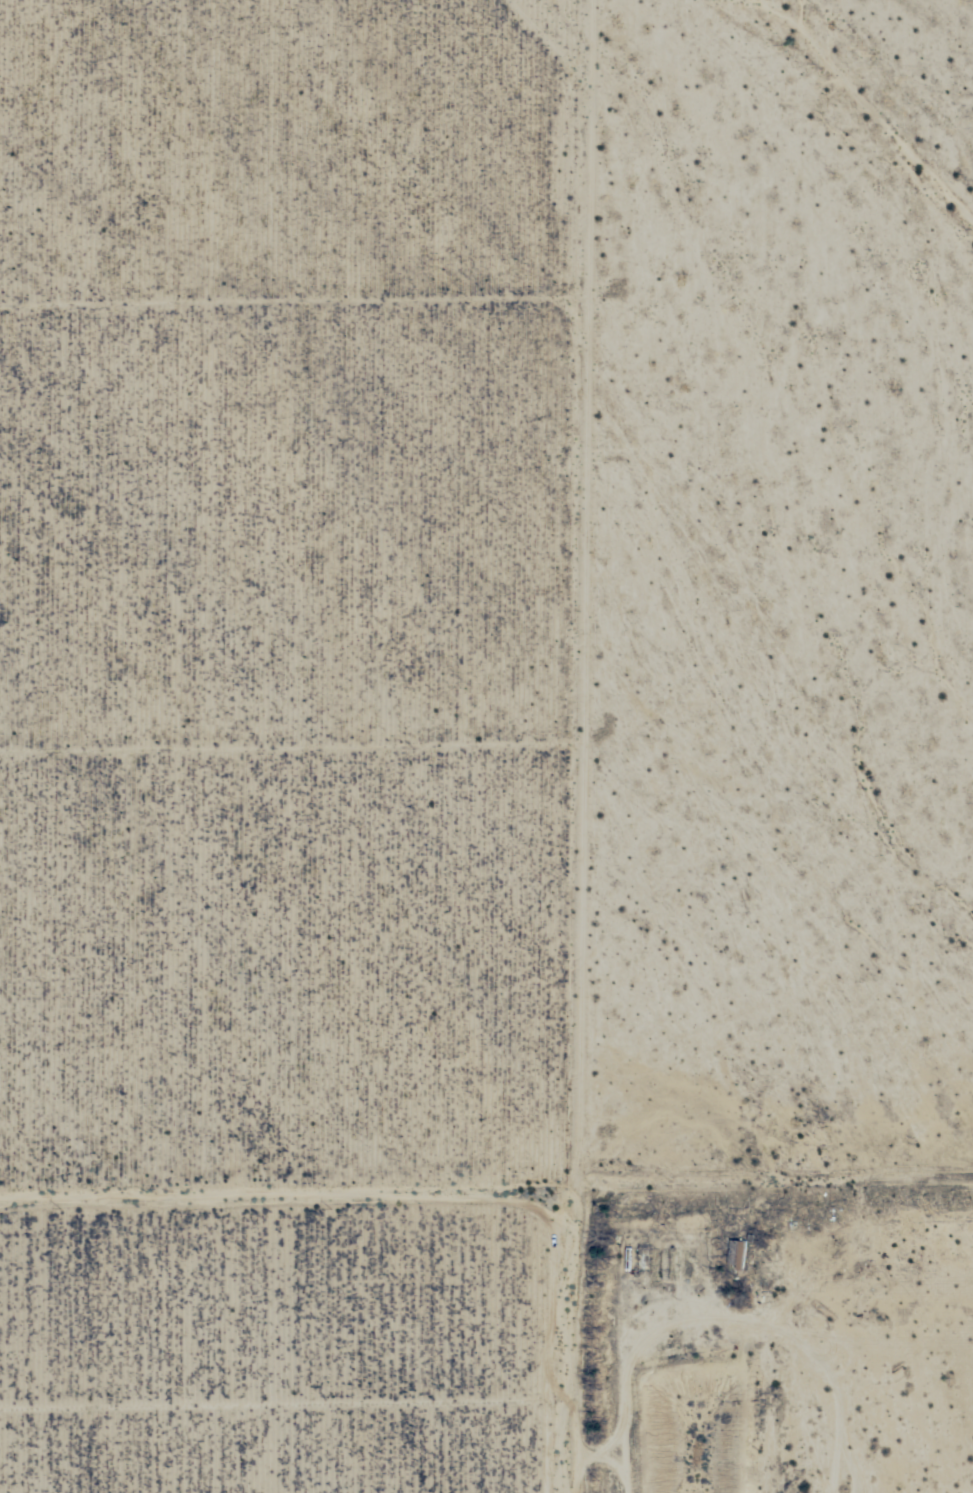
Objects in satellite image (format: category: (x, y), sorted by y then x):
road: (621, 1181)

